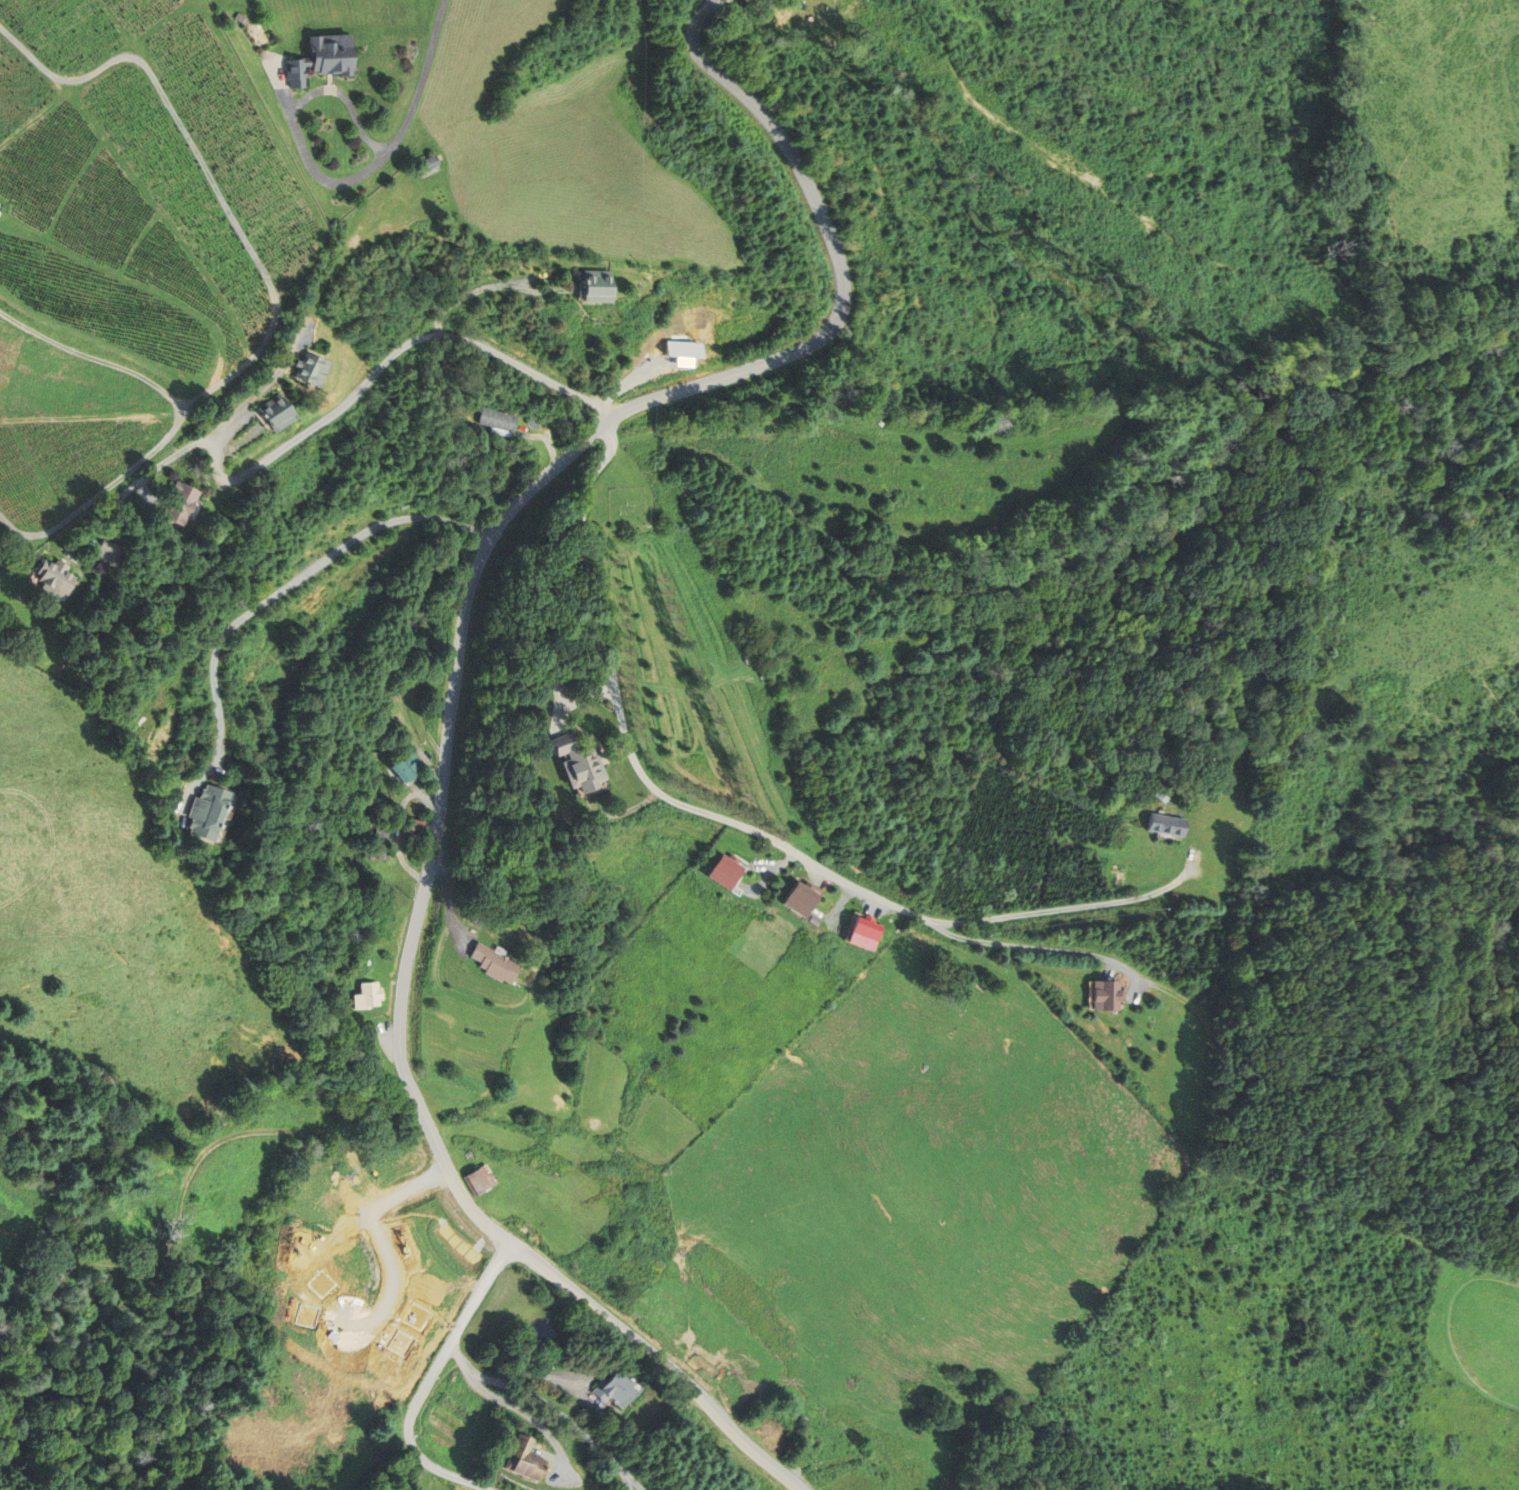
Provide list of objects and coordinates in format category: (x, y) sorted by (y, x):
building: (322, 58)
road: (422, 81)
road: (295, 115)
building: (427, 163)
road: (265, 275)
road: (488, 285)
building: (594, 286)
building: (683, 348)
road: (87, 354)
road: (283, 368)
building: (307, 369)
road: (372, 375)
road: (184, 401)
building: (451, 409)
road: (177, 411)
building: (274, 412)
building: (497, 419)
building: (532, 422)
road: (139, 480)
building: (178, 503)
park: (627, 506)
building: (106, 553)
building: (53, 578)
road: (273, 597)
road: (454, 694)
road: (629, 749)
building: (579, 763)
building: (402, 769)
building: (204, 812)
building: (1165, 826)
building: (416, 827)
building: (382, 837)
building: (726, 873)
building: (800, 900)
road: (1059, 910)
building: (864, 934)
road: (1027, 947)
building: (494, 963)
building: (365, 996)
building: (1108, 997)
road: (195, 1167)
building: (480, 1179)
road: (379, 1233)
building: (321, 1286)
building: (305, 1315)
building: (416, 1317)
road: (1449, 1332)
building: (400, 1343)
park: (1470, 1375)
road: (430, 1380)
building: (612, 1388)
road: (554, 1405)
building: (524, 1458)

